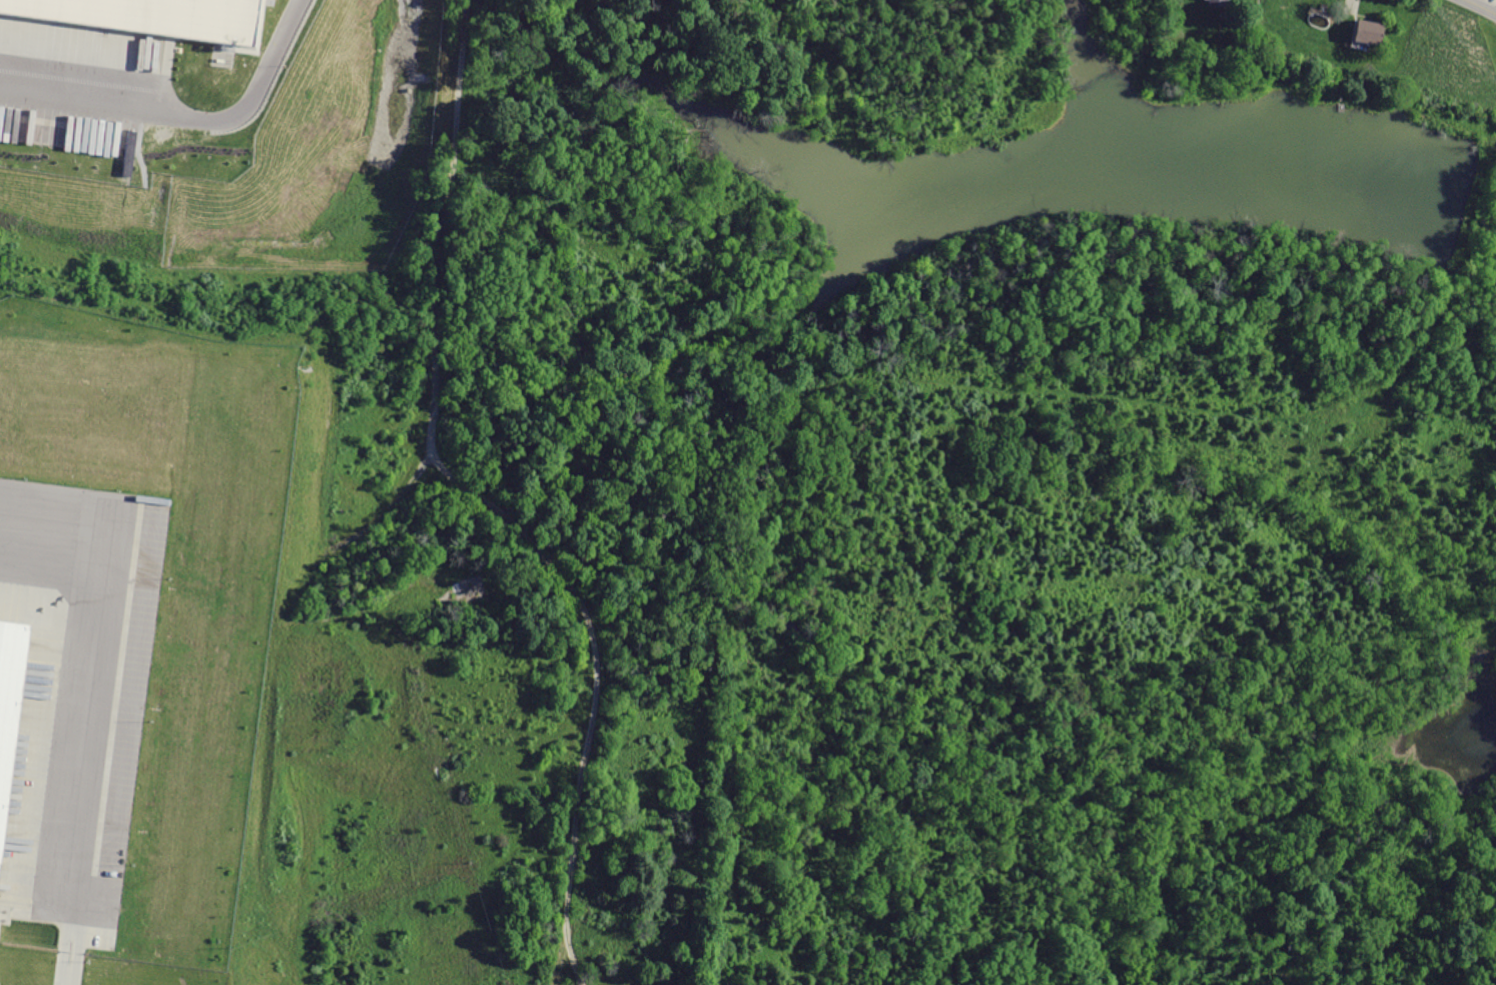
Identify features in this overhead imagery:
building: (1215, 2)
road: (1479, 7)
building: (153, 19)
building: (1367, 31)
road: (183, 117)
road: (451, 200)
building: (9, 700)
road: (84, 701)
road: (68, 969)

